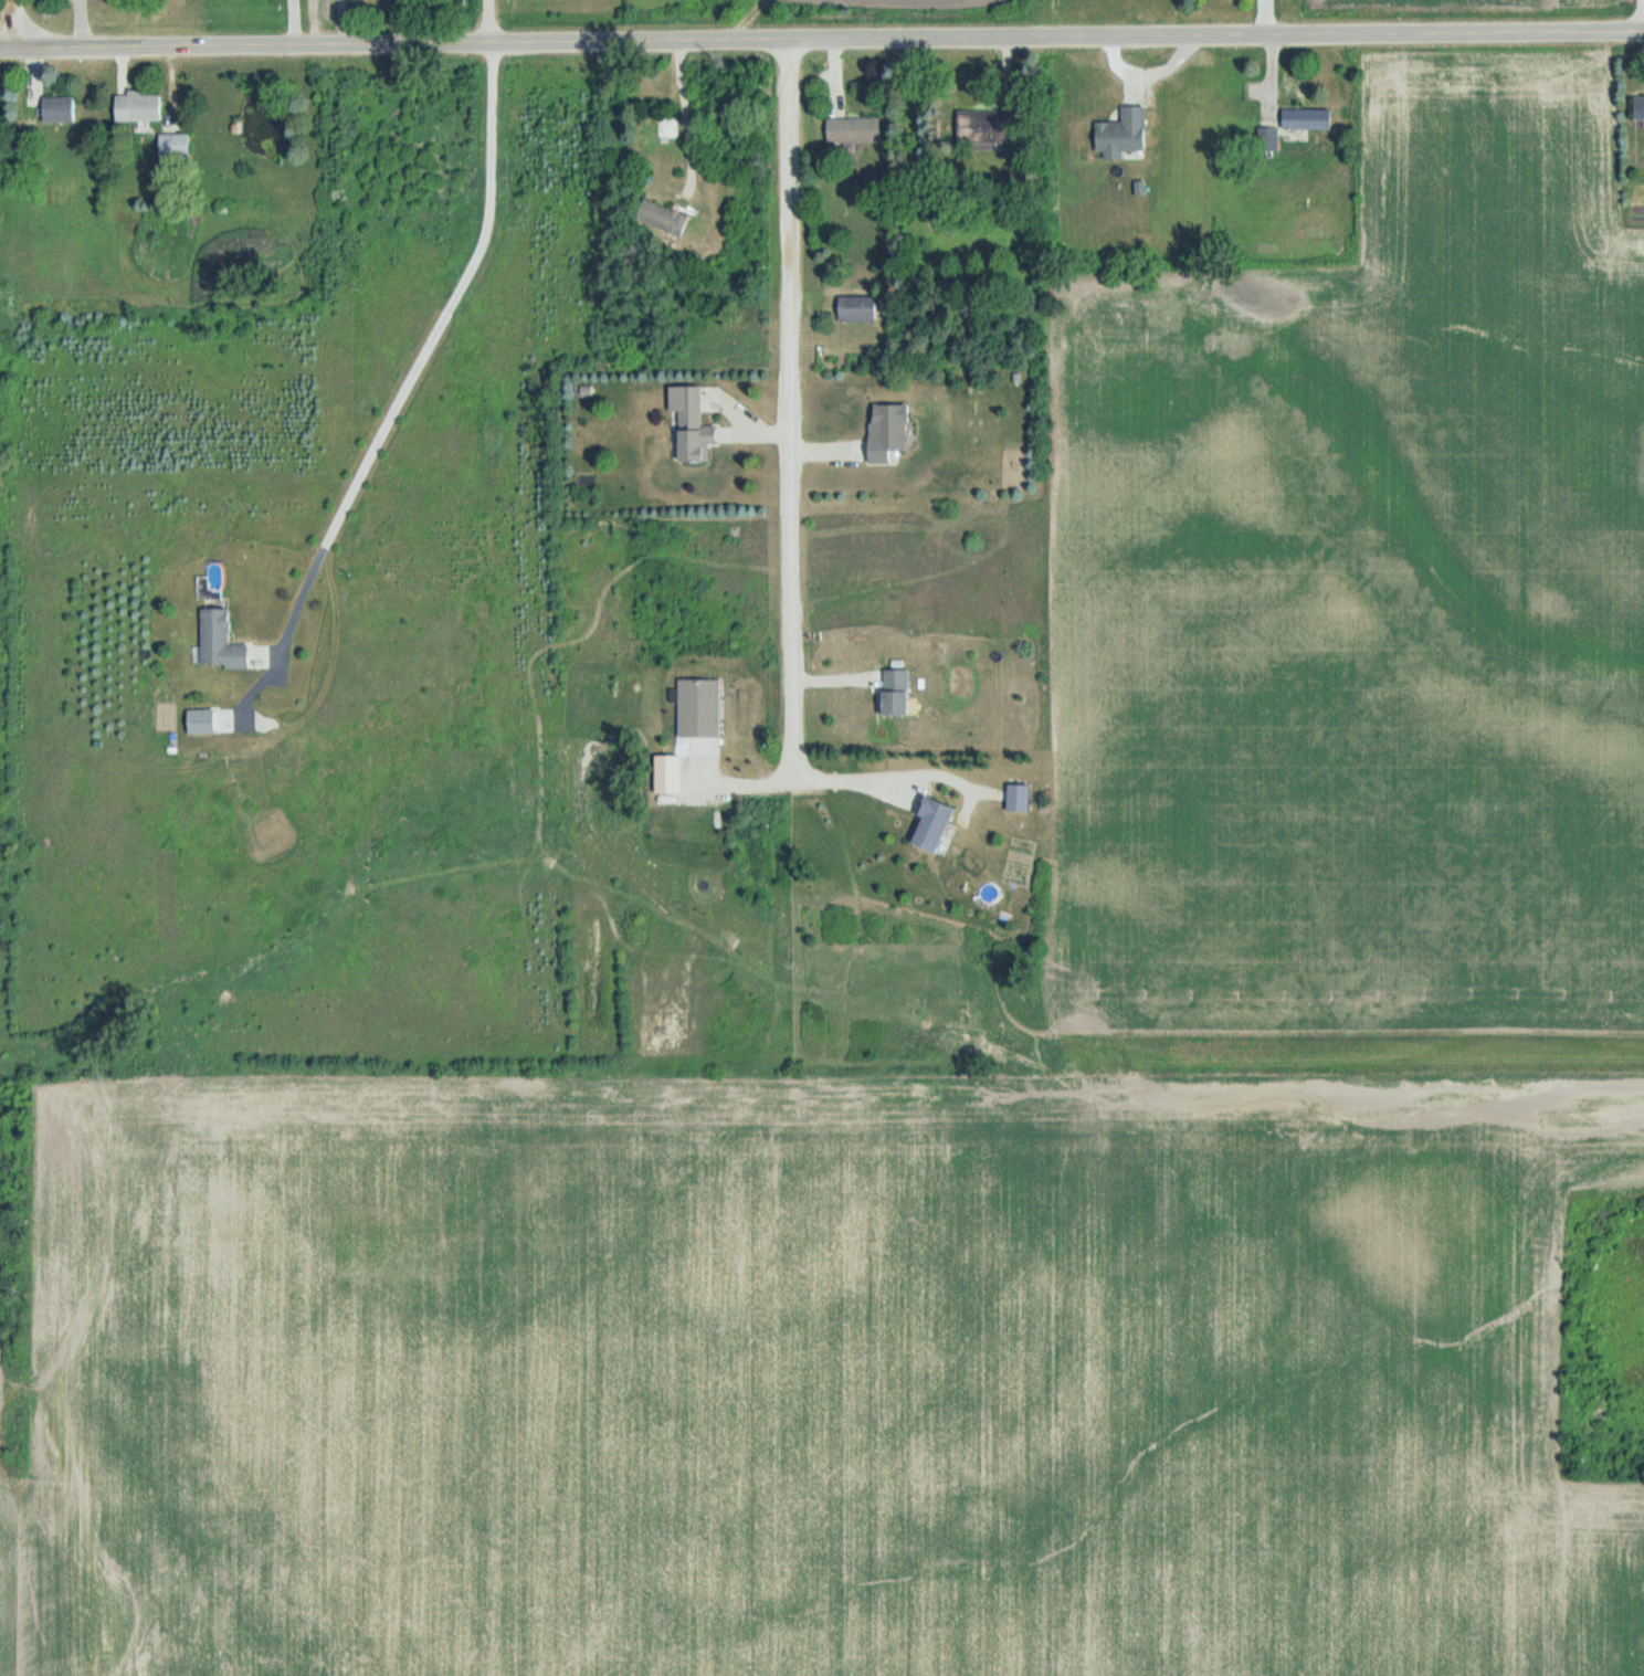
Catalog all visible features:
crop: (1465, 20)
crop: (890, 21)
road: (493, 22)
road: (14, 23)
road: (821, 43)
building: (141, 106)
building: (1640, 107)
building: (60, 109)
building: (1306, 120)
building: (666, 128)
building: (854, 130)
building: (1123, 135)
building: (175, 146)
building: (663, 218)
building: (858, 310)
road: (413, 349)
road: (783, 408)
building: (691, 428)
building: (889, 433)
building: (222, 642)
building: (898, 694)
road: (849, 772)
building: (1020, 798)
building: (935, 826)
crop: (1007, 1109)

